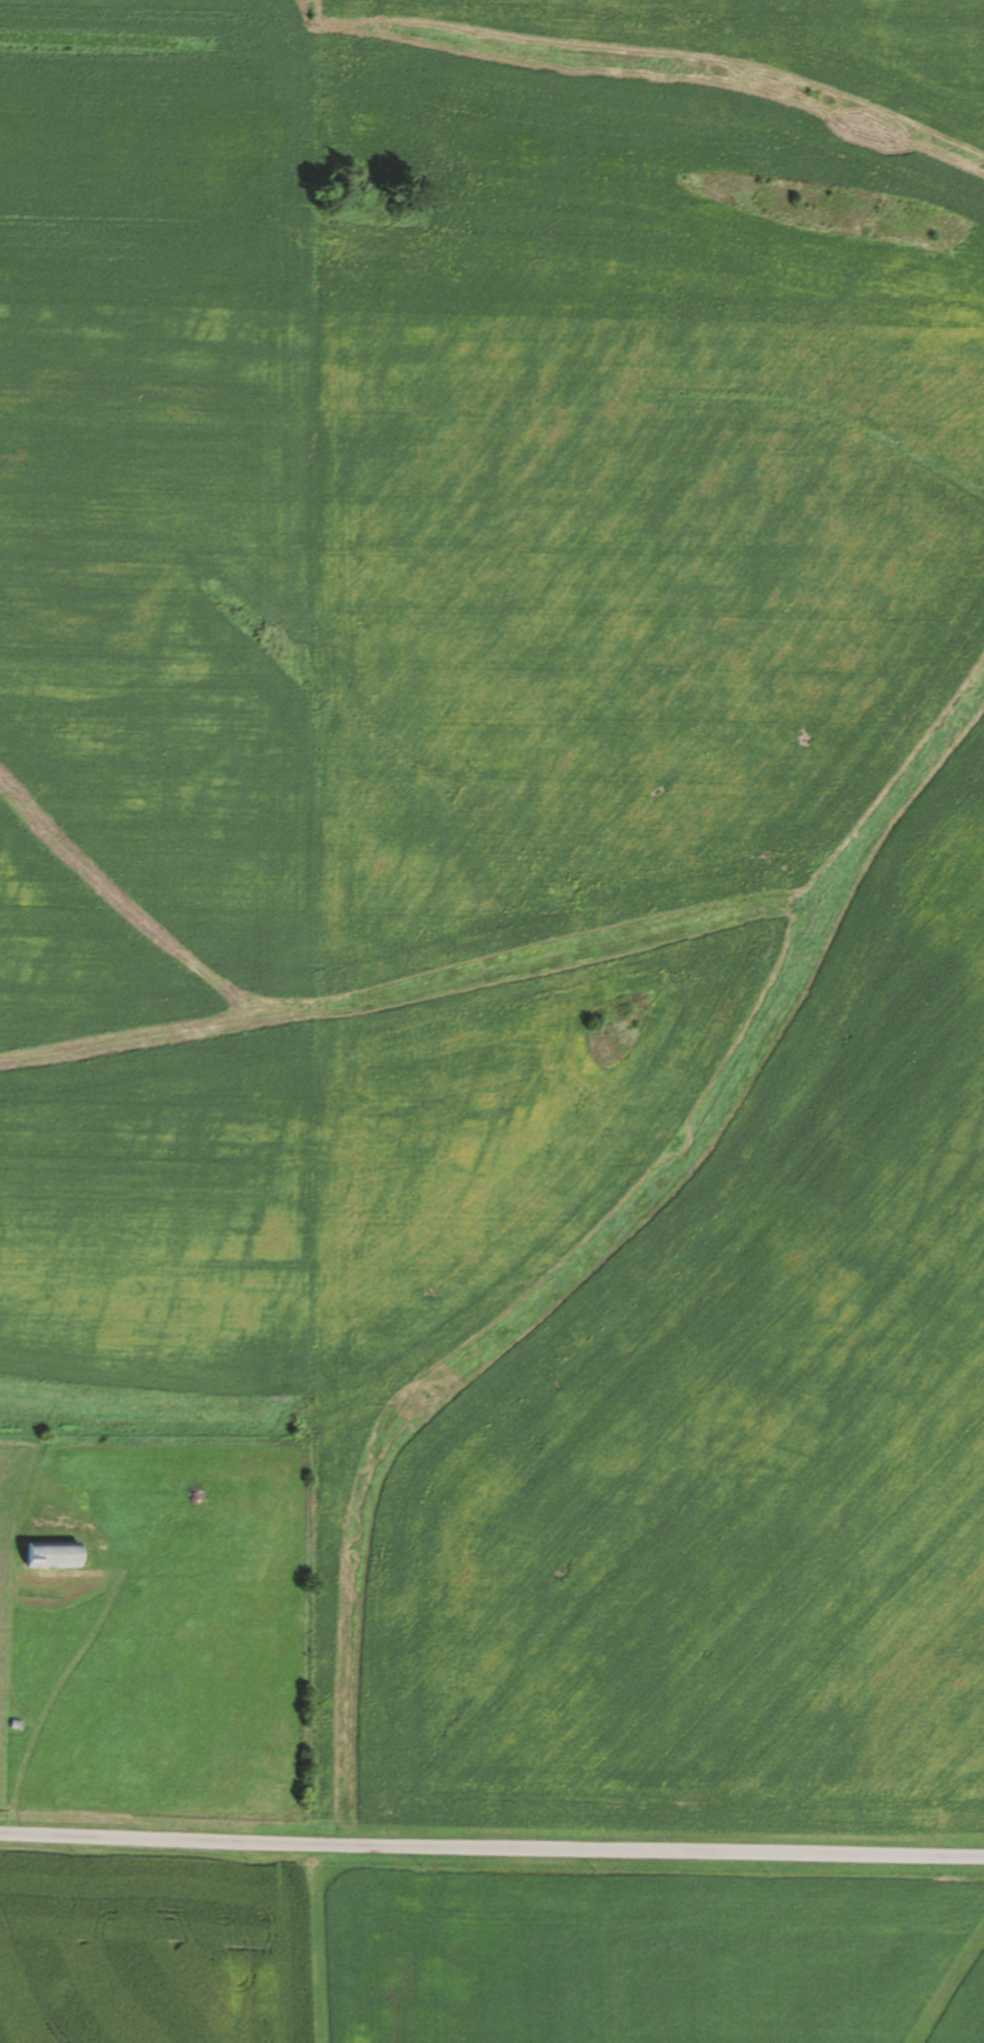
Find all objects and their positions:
road: (491, 1841)

